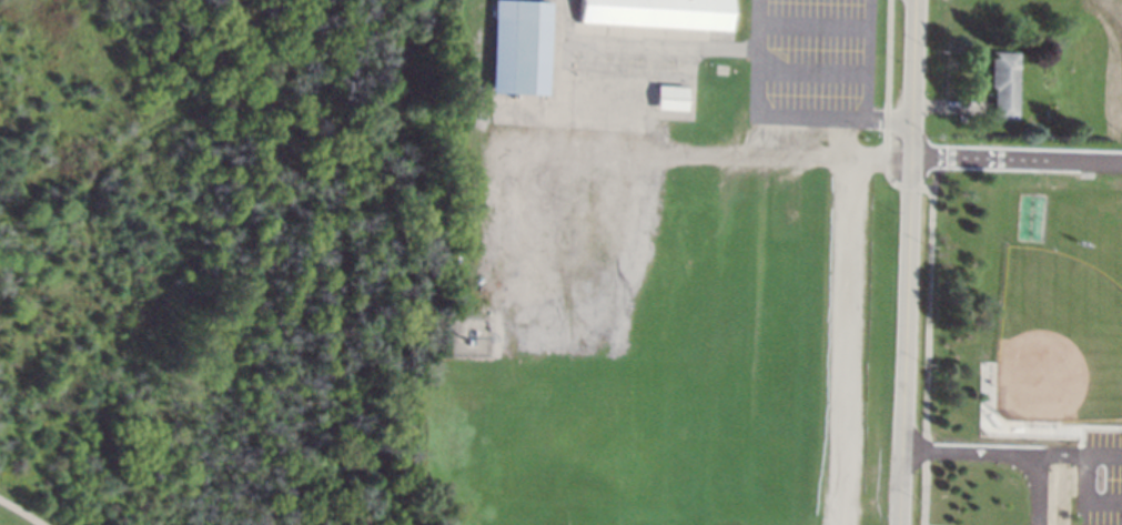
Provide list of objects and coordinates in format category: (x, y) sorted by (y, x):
building: (656, 13)
road: (812, 22)
road: (658, 46)
building: (514, 47)
road: (757, 55)
road: (865, 58)
parking lot: (810, 63)
road: (810, 68)
building: (1002, 83)
building: (669, 98)
road: (886, 112)
road: (832, 115)
road: (840, 151)
road: (1015, 160)
park: (198, 260)
road: (907, 262)
road: (846, 319)
road: (926, 341)
park: (1057, 341)
road: (997, 453)
road: (1060, 456)
parking lot: (1102, 478)
park: (720, 484)
road: (1090, 494)
road: (21, 513)

